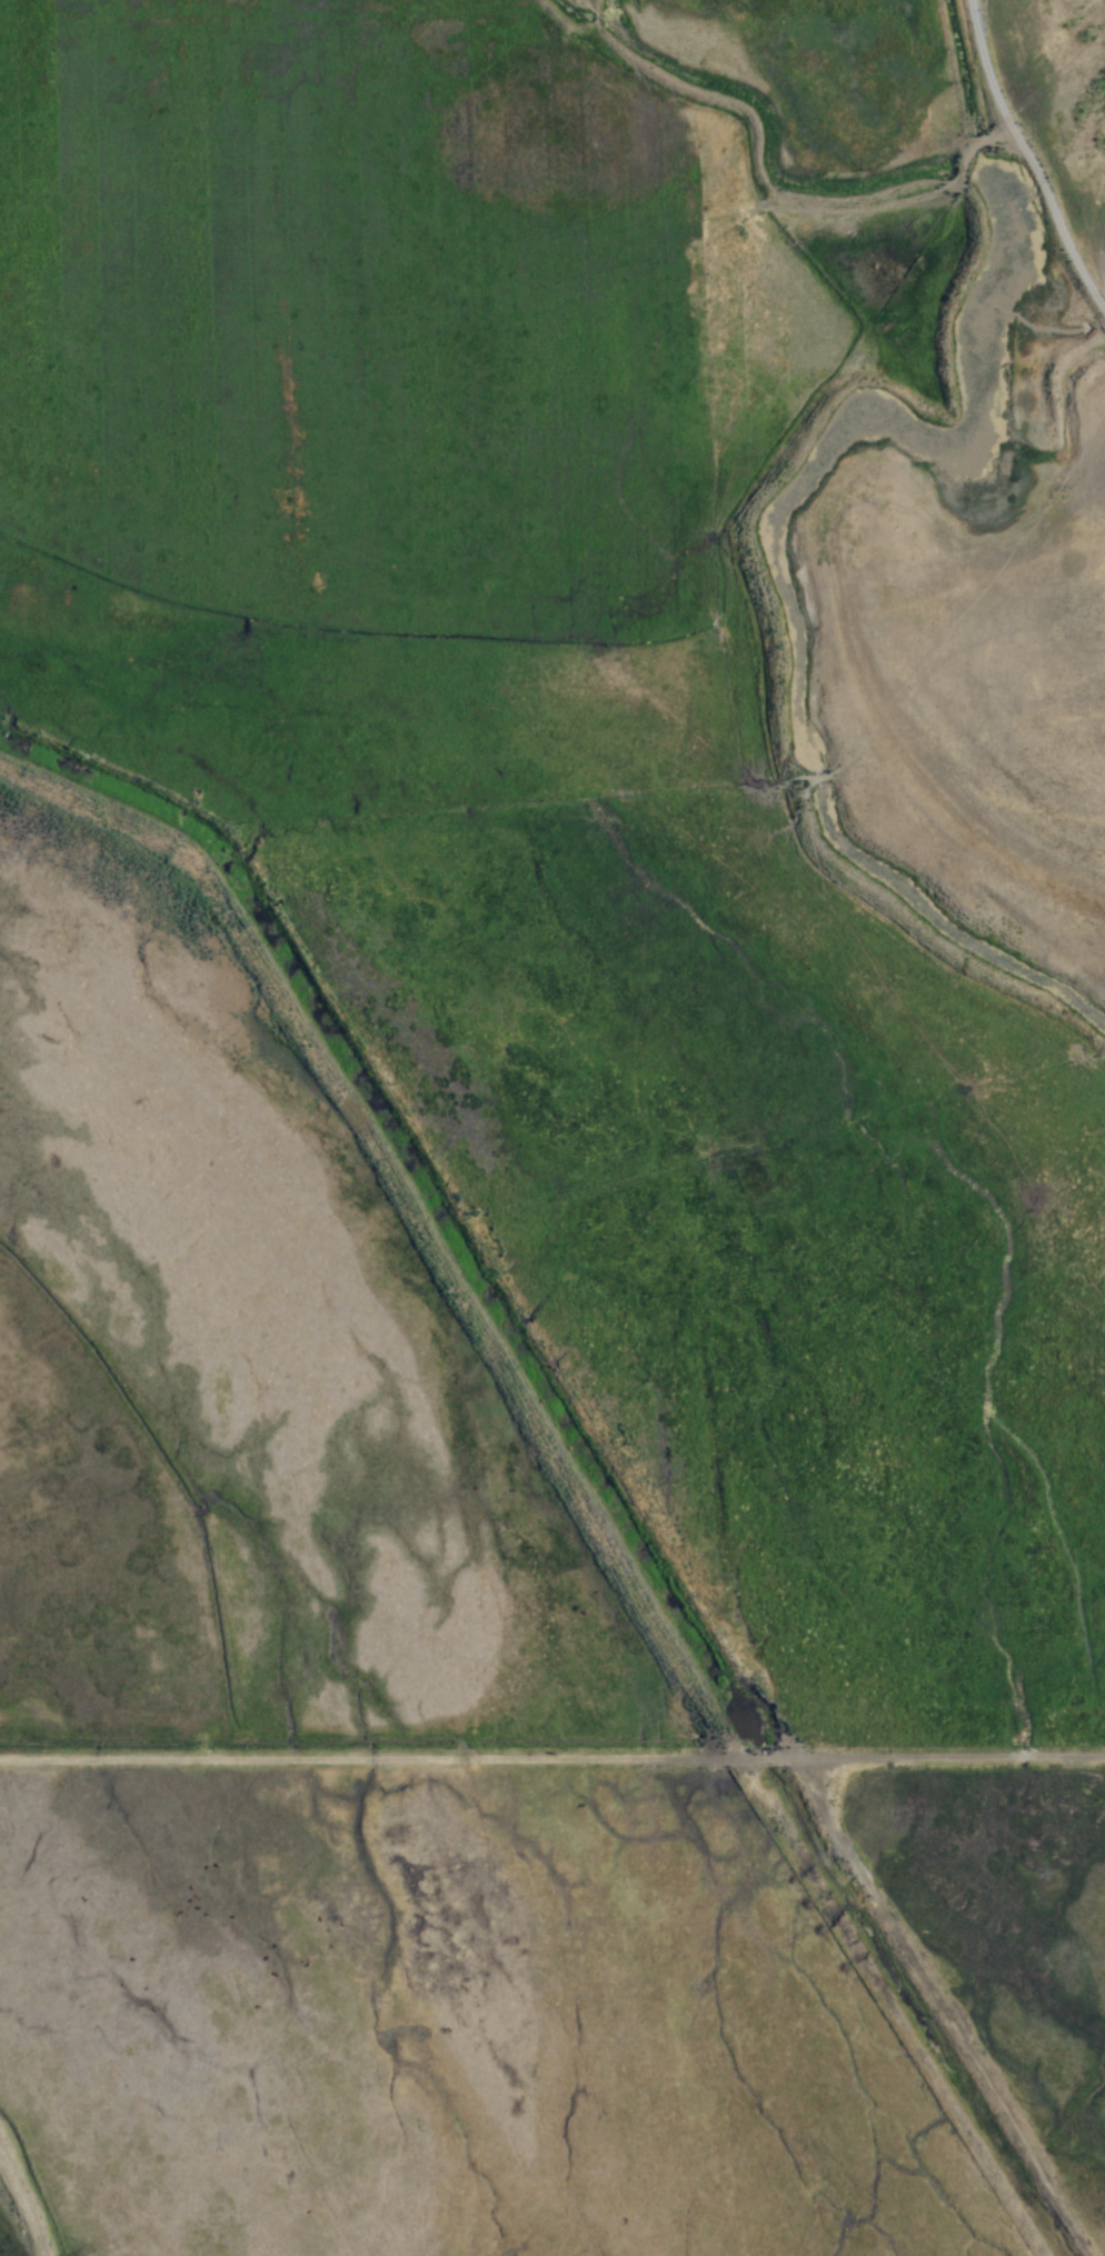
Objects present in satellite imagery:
road: (1031, 156)

